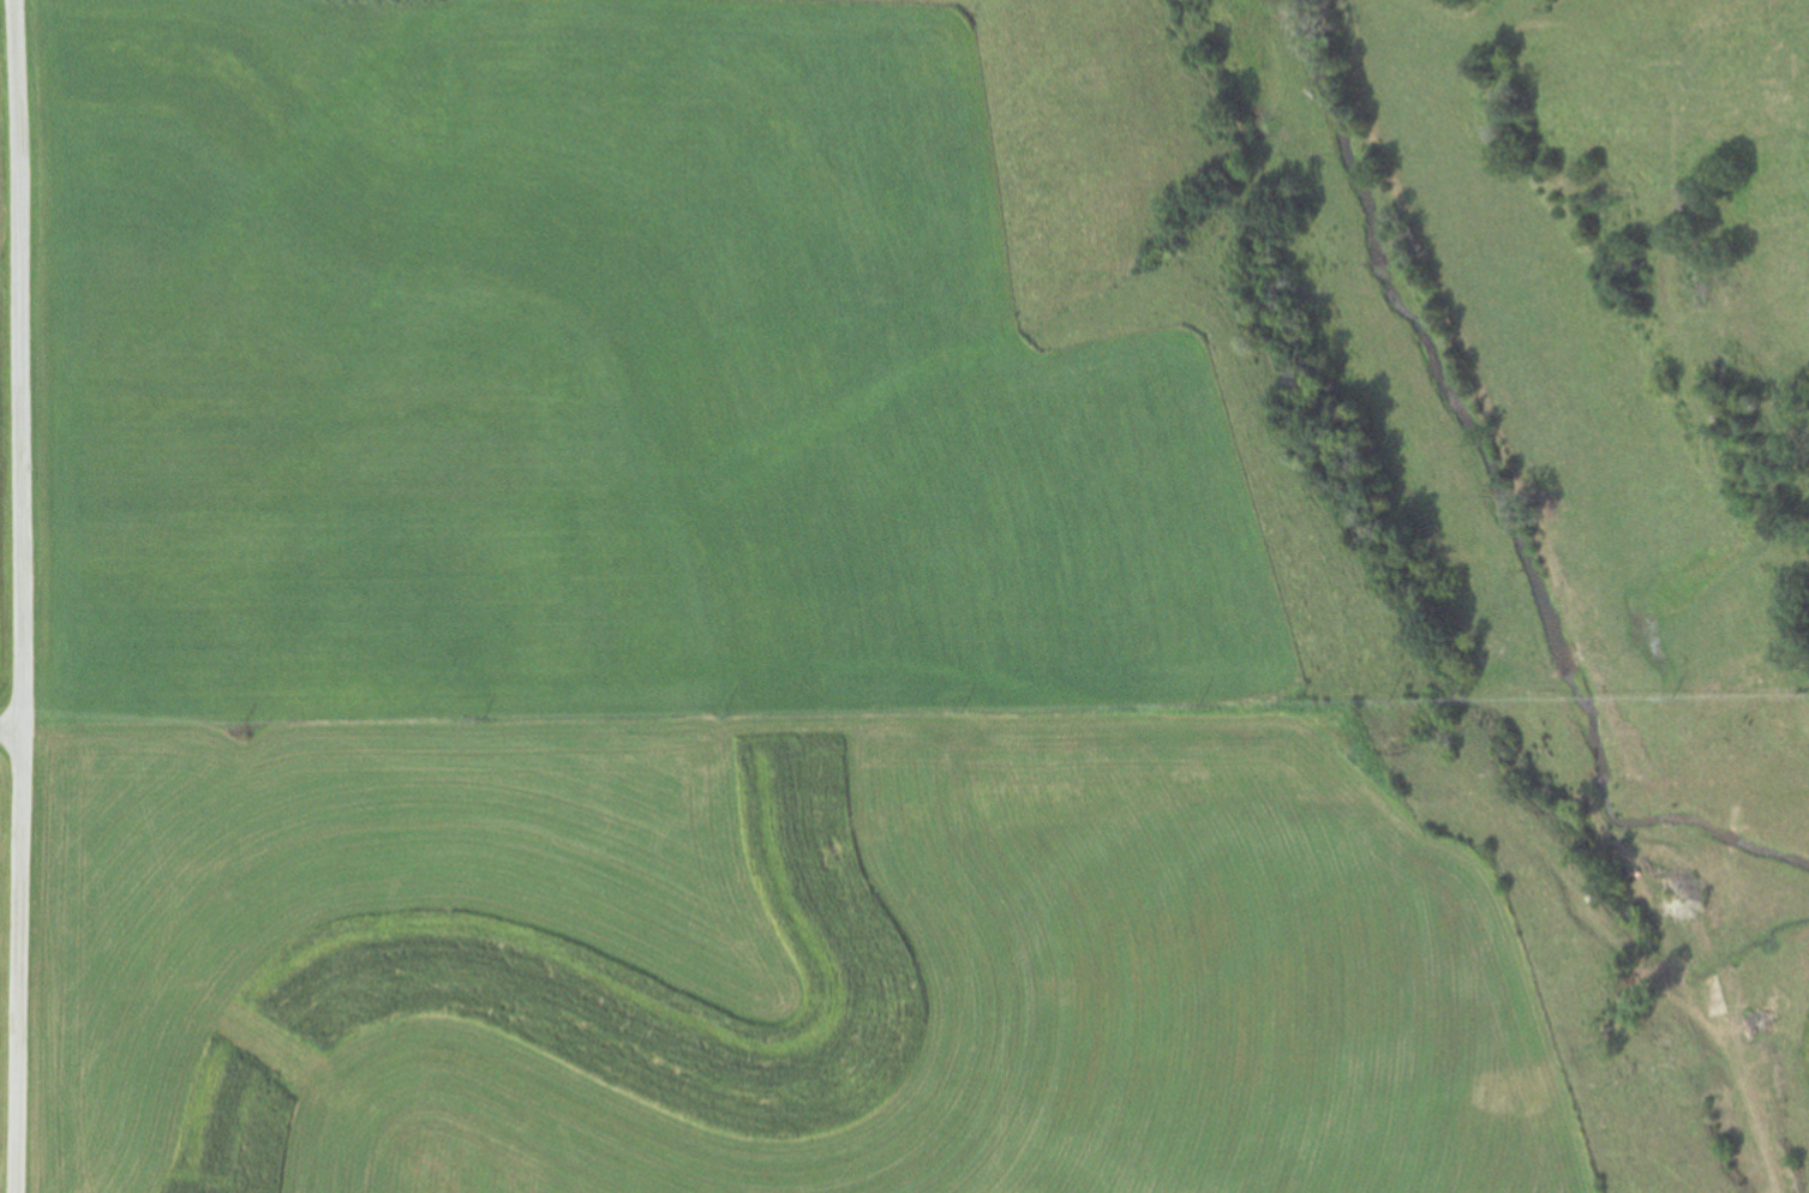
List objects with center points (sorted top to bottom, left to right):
road: (22, 595)
road: (12, 729)

